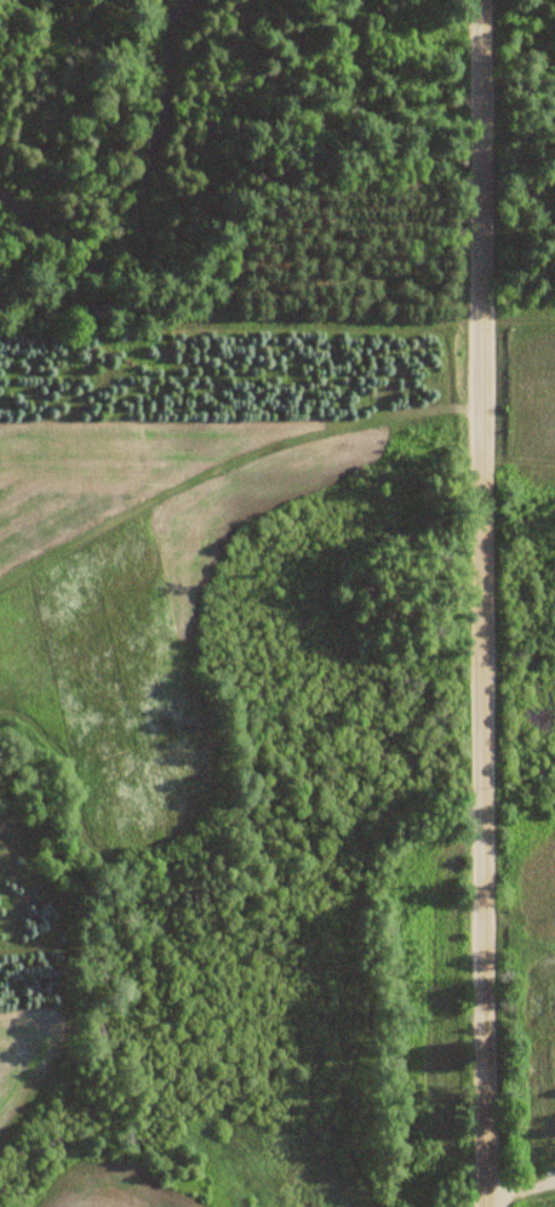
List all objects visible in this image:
river: (148, 201)
road: (484, 603)
road: (551, 1179)
road: (551, 1182)
road: (517, 1190)

